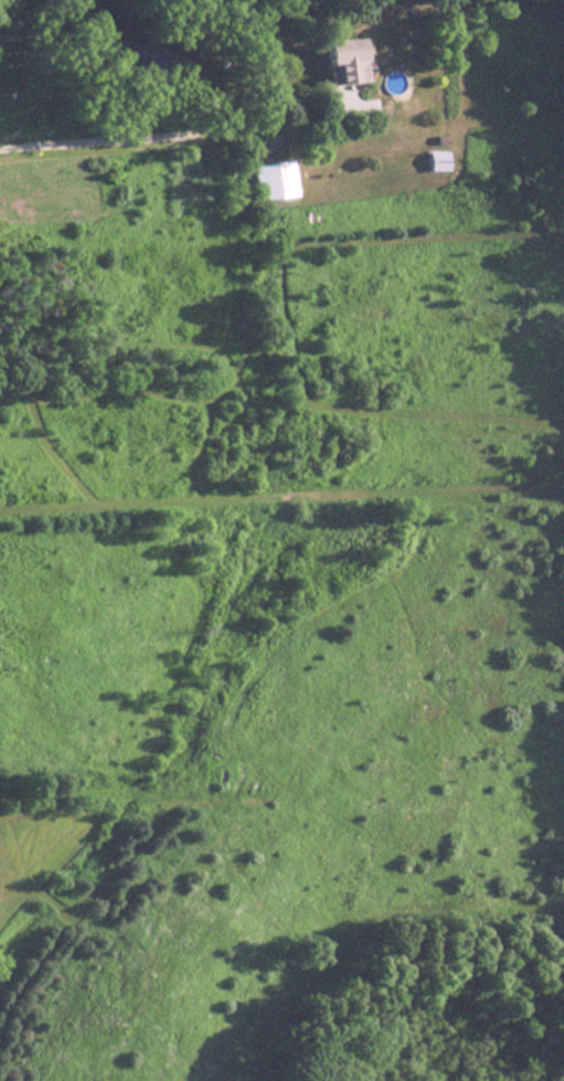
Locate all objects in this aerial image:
building: (338, 63)
road: (125, 133)
building: (435, 161)
building: (268, 181)

